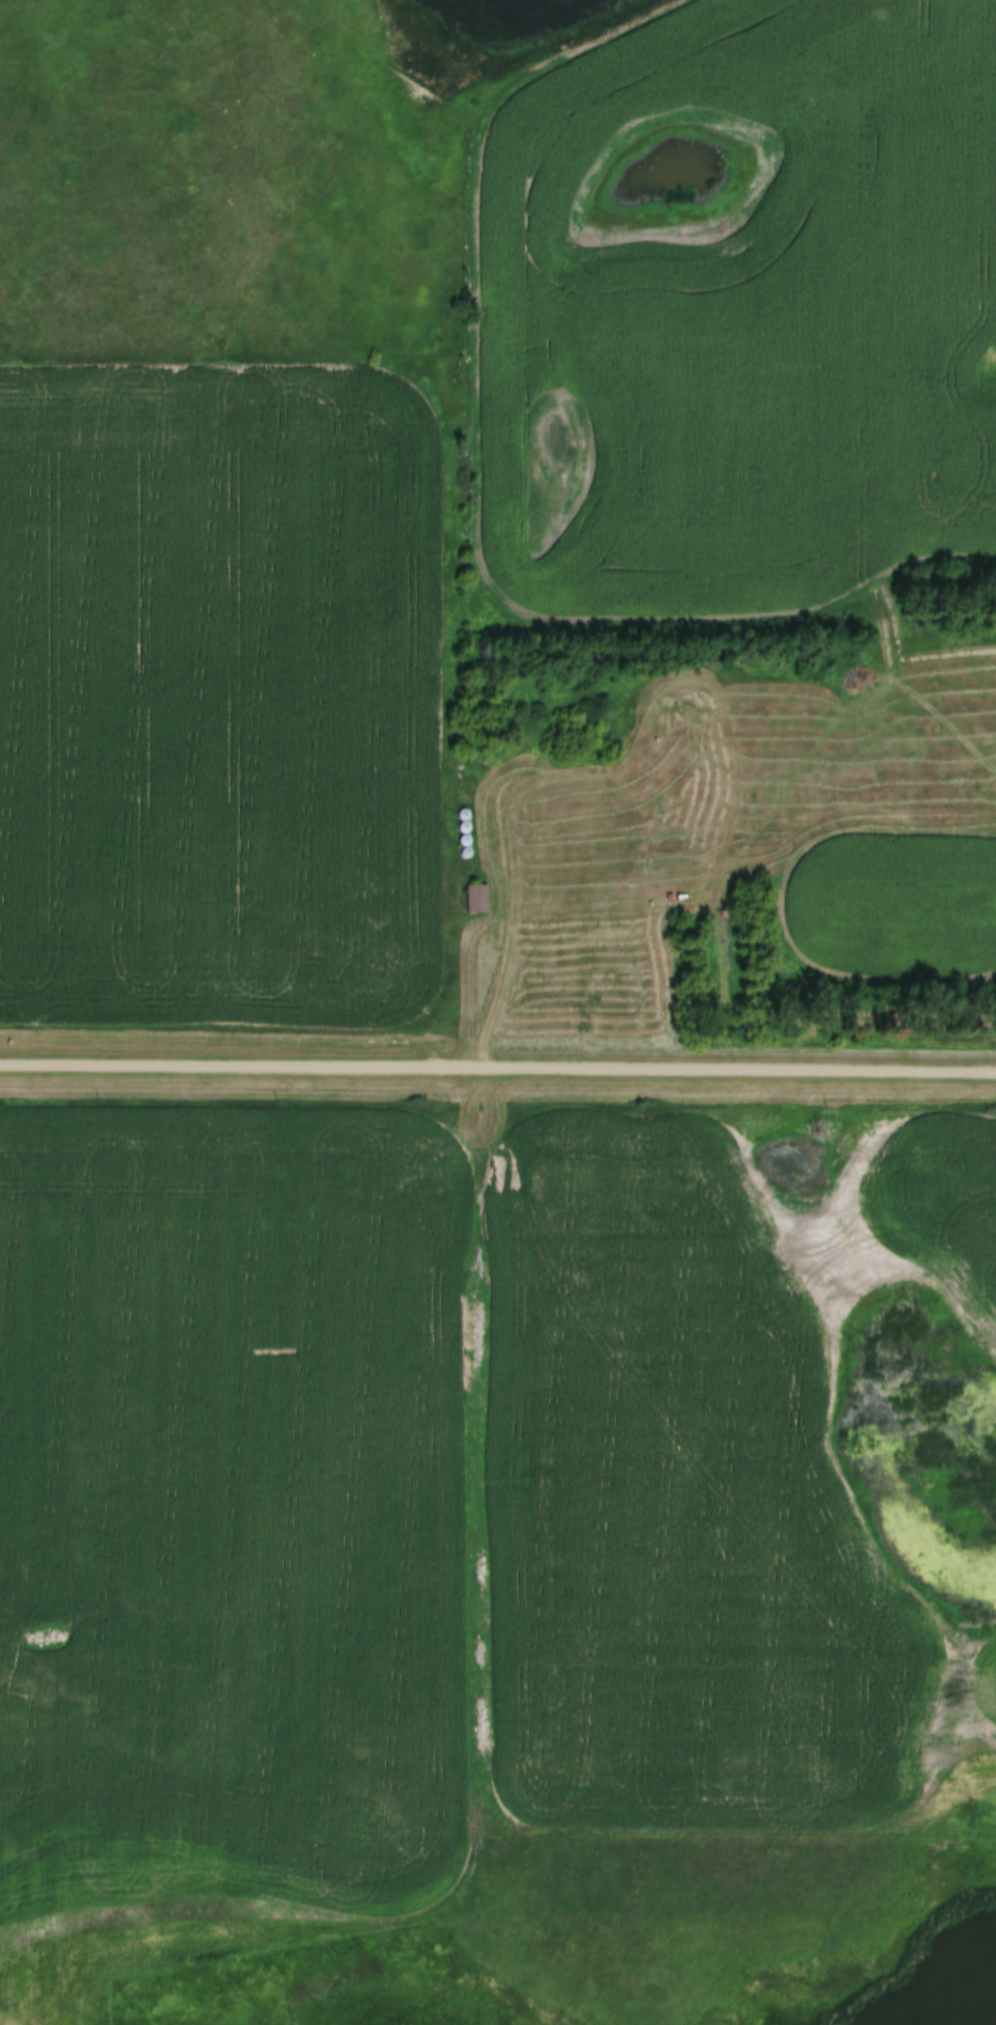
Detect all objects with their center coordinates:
building: (480, 901)
building: (566, 959)
road: (508, 966)
road: (497, 1067)

